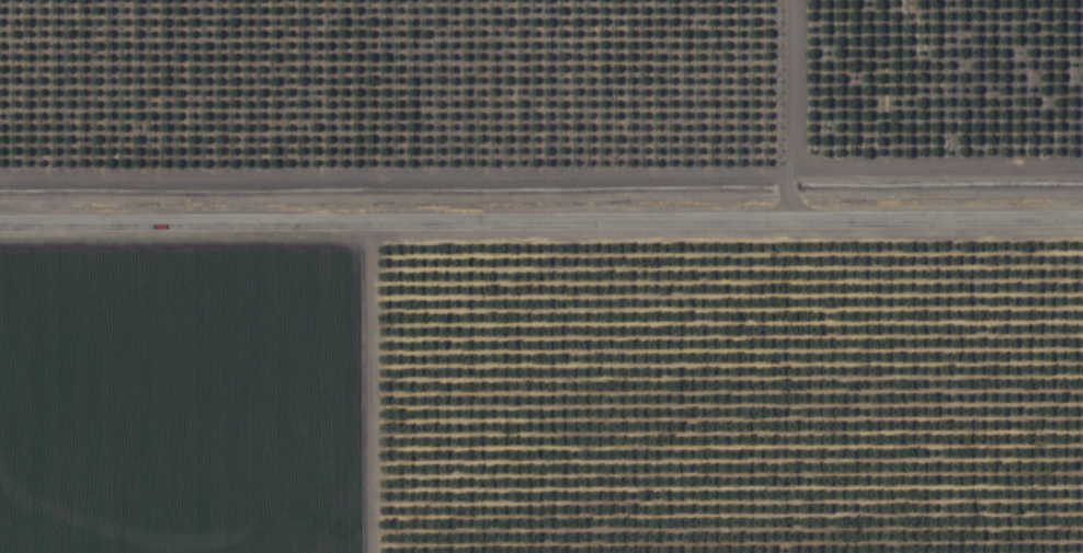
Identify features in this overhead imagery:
building: (264, 28)
building: (821, 78)
road: (541, 214)
crop: (541, 276)

